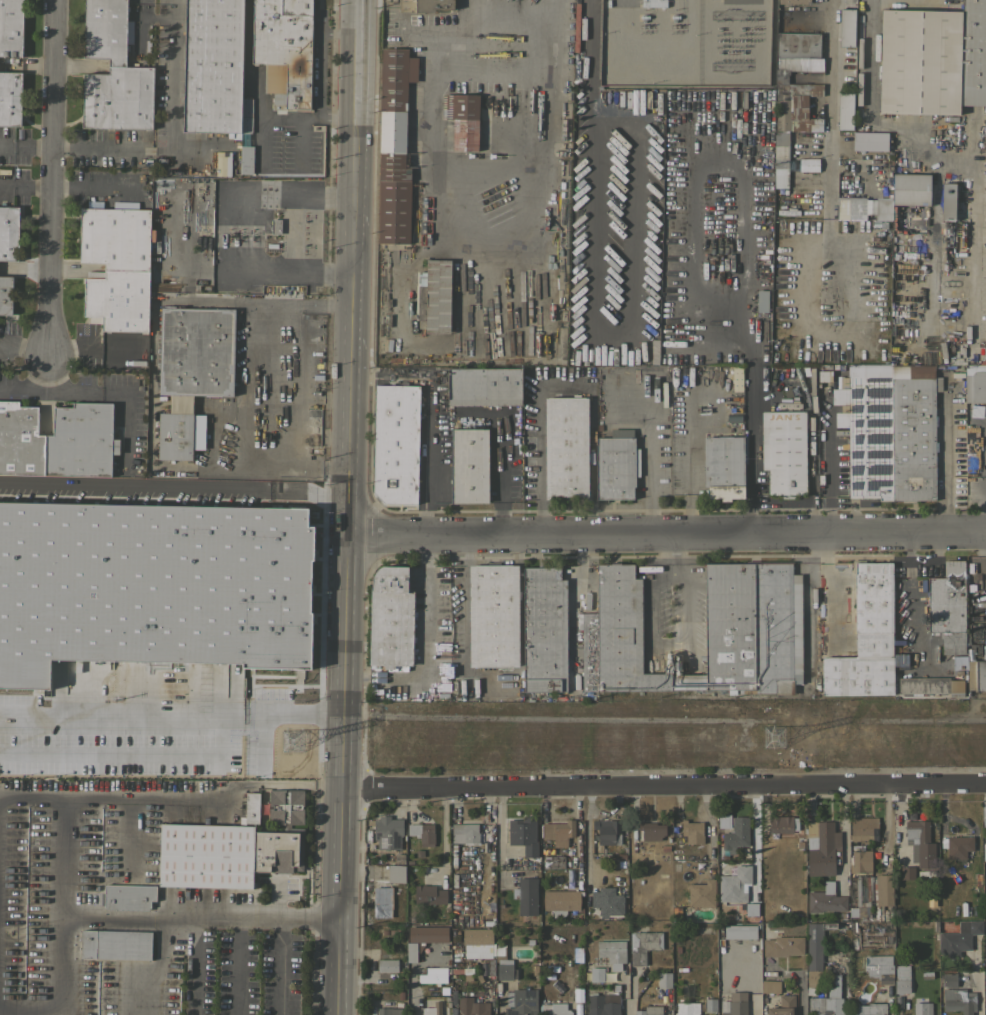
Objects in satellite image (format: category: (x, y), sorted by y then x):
building: (793, 1)
building: (653, 3)
building: (423, 5)
road: (511, 8)
road: (148, 16)
building: (11, 27)
building: (846, 27)
building: (105, 30)
road: (340, 31)
road: (445, 32)
building: (564, 36)
power substation: (683, 42)
building: (283, 49)
road: (870, 56)
road: (359, 59)
building: (932, 59)
road: (830, 64)
building: (212, 66)
road: (319, 74)
building: (780, 78)
road: (255, 84)
building: (10, 98)
building: (118, 98)
road: (173, 99)
building: (621, 103)
building: (845, 110)
building: (245, 112)
road: (314, 118)
road: (337, 118)
building: (462, 119)
building: (868, 141)
road: (94, 146)
building: (394, 146)
road: (583, 151)
building: (245, 159)
building: (780, 159)
building: (224, 162)
building: (808, 164)
road: (50, 177)
building: (910, 189)
road: (91, 191)
building: (947, 201)
building: (863, 207)
road: (828, 211)
building: (275, 225)
building: (8, 232)
road: (692, 237)
building: (115, 238)
road: (744, 249)
road: (512, 266)
building: (827, 270)
building: (5, 294)
building: (433, 296)
building: (118, 300)
building: (762, 300)
building: (850, 301)
building: (828, 302)
building: (841, 304)
road: (312, 306)
road: (701, 347)
building: (636, 355)
building: (190, 369)
building: (975, 382)
building: (484, 386)
building: (439, 394)
road: (254, 402)
building: (866, 428)
building: (983, 429)
building: (913, 431)
building: (20, 440)
building: (80, 440)
road: (749, 440)
building: (395, 443)
building: (566, 448)
building: (783, 452)
road: (943, 452)
road: (346, 454)
building: (616, 464)
building: (469, 465)
building: (724, 466)
road: (322, 470)
road: (648, 475)
road: (172, 489)
road: (665, 534)
building: (175, 579)
road: (826, 592)
building: (948, 606)
building: (493, 615)
building: (390, 617)
building: (544, 629)
building: (750, 629)
building: (622, 634)
road: (652, 634)
building: (865, 637)
road: (422, 645)
building: (588, 650)
building: (959, 662)
building: (677, 663)
building: (976, 672)
building: (441, 680)
building: (930, 685)
road: (169, 717)
power tower: (771, 738)
power tower: (288, 744)
road: (129, 756)
road: (661, 788)
building: (251, 807)
building: (723, 820)
building: (783, 823)
building: (863, 828)
building: (651, 830)
building: (558, 831)
building: (607, 831)
building: (692, 831)
building: (387, 832)
building: (422, 832)
building: (465, 832)
road: (499, 834)
building: (523, 834)
building: (736, 834)
road: (842, 836)
building: (984, 838)
road: (587, 841)
building: (920, 843)
building: (957, 846)
building: (822, 847)
building: (232, 848)
building: (860, 859)
building: (553, 861)
building: (617, 866)
building: (906, 872)
building: (396, 873)
building: (734, 884)
building: (868, 890)
building: (702, 893)
building: (428, 894)
building: (882, 894)
building: (527, 895)
building: (127, 896)
building: (382, 900)
building: (561, 901)
building: (607, 901)
building: (825, 901)
road: (335, 902)
building: (751, 909)
road: (124, 917)
building: (740, 931)
building: (898, 931)
building: (427, 934)
building: (958, 938)
building: (477, 942)
building: (116, 944)
building: (643, 945)
building: (782, 945)
building: (411, 951)
building: (612, 952)
building: (814, 953)
building: (578, 954)
building: (503, 963)
building: (387, 965)
road: (195, 966)
road: (237, 966)
road: (280, 966)
building: (879, 967)
building: (464, 972)
building: (596, 974)
building: (433, 975)
building: (901, 979)
building: (664, 980)
building: (949, 980)
road: (976, 985)
building: (770, 986)
building: (577, 993)
building: (985, 999)
building: (829, 1000)
building: (958, 1000)
building: (521, 1002)
building: (603, 1004)
building: (710, 1004)
building: (472, 1006)
building: (783, 1006)
building: (732, 1007)
building: (686, 1008)
building: (922, 1008)
building: (432, 1009)
building: (554, 1009)
building: (869, 1009)
building: (649, 1010)
building: (389, 1011)

